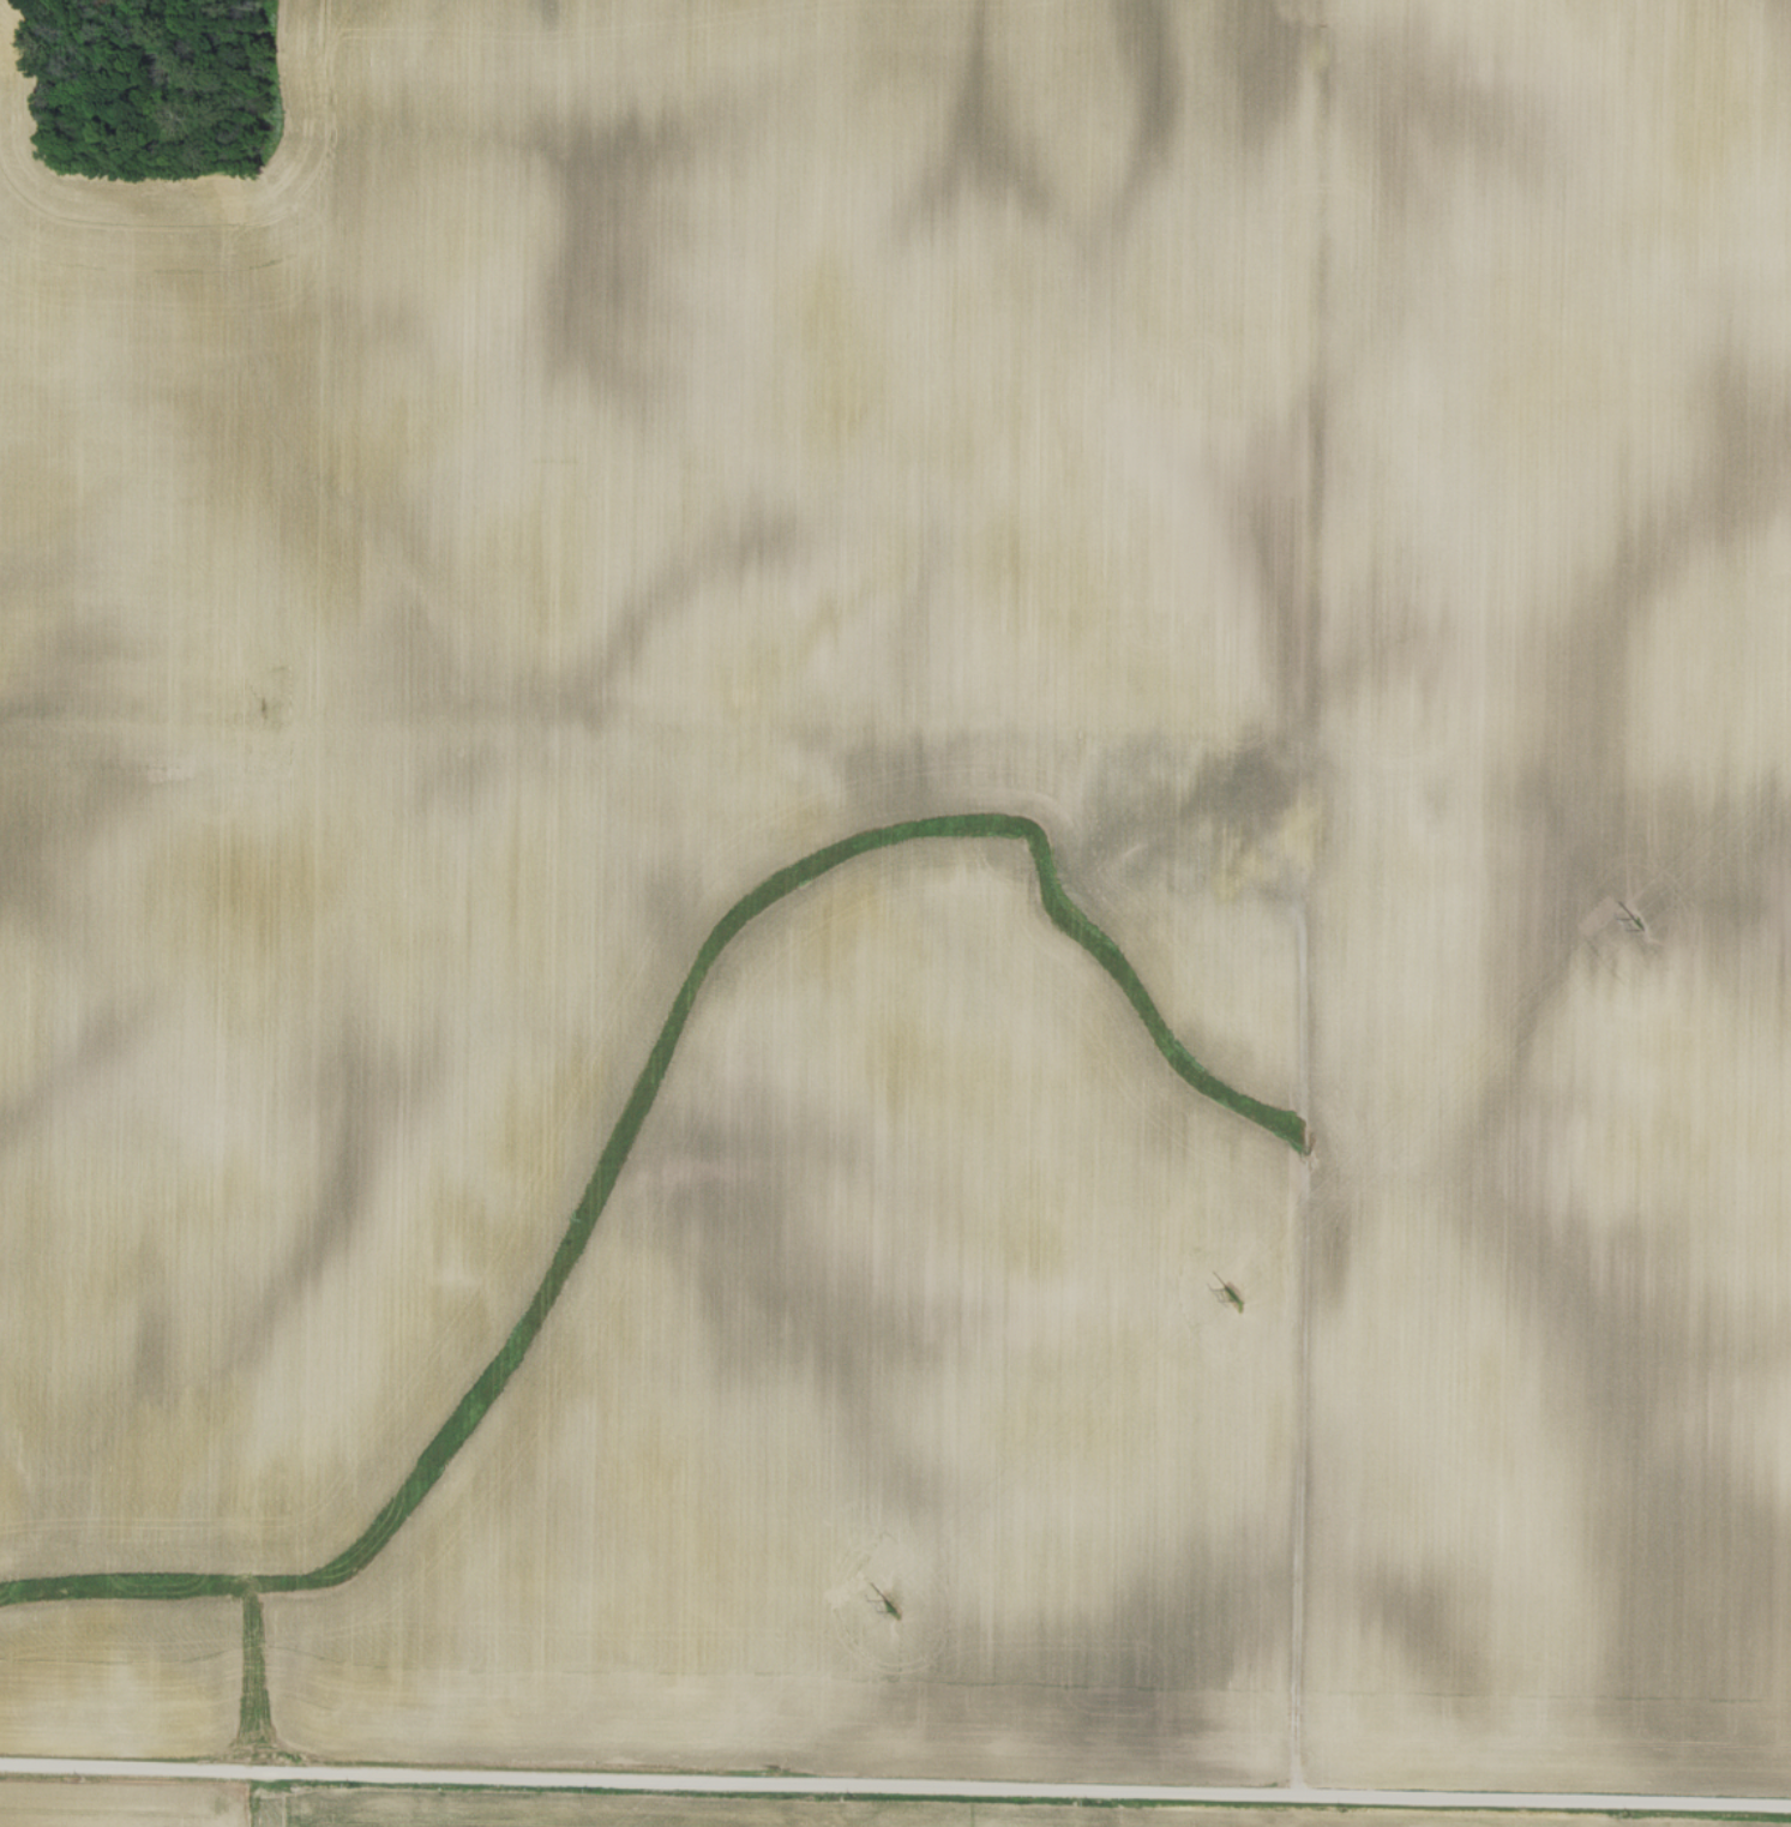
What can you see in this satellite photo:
power tower: (1639, 926)
power tower: (1232, 1298)
power tower: (893, 1607)
road: (895, 1784)

